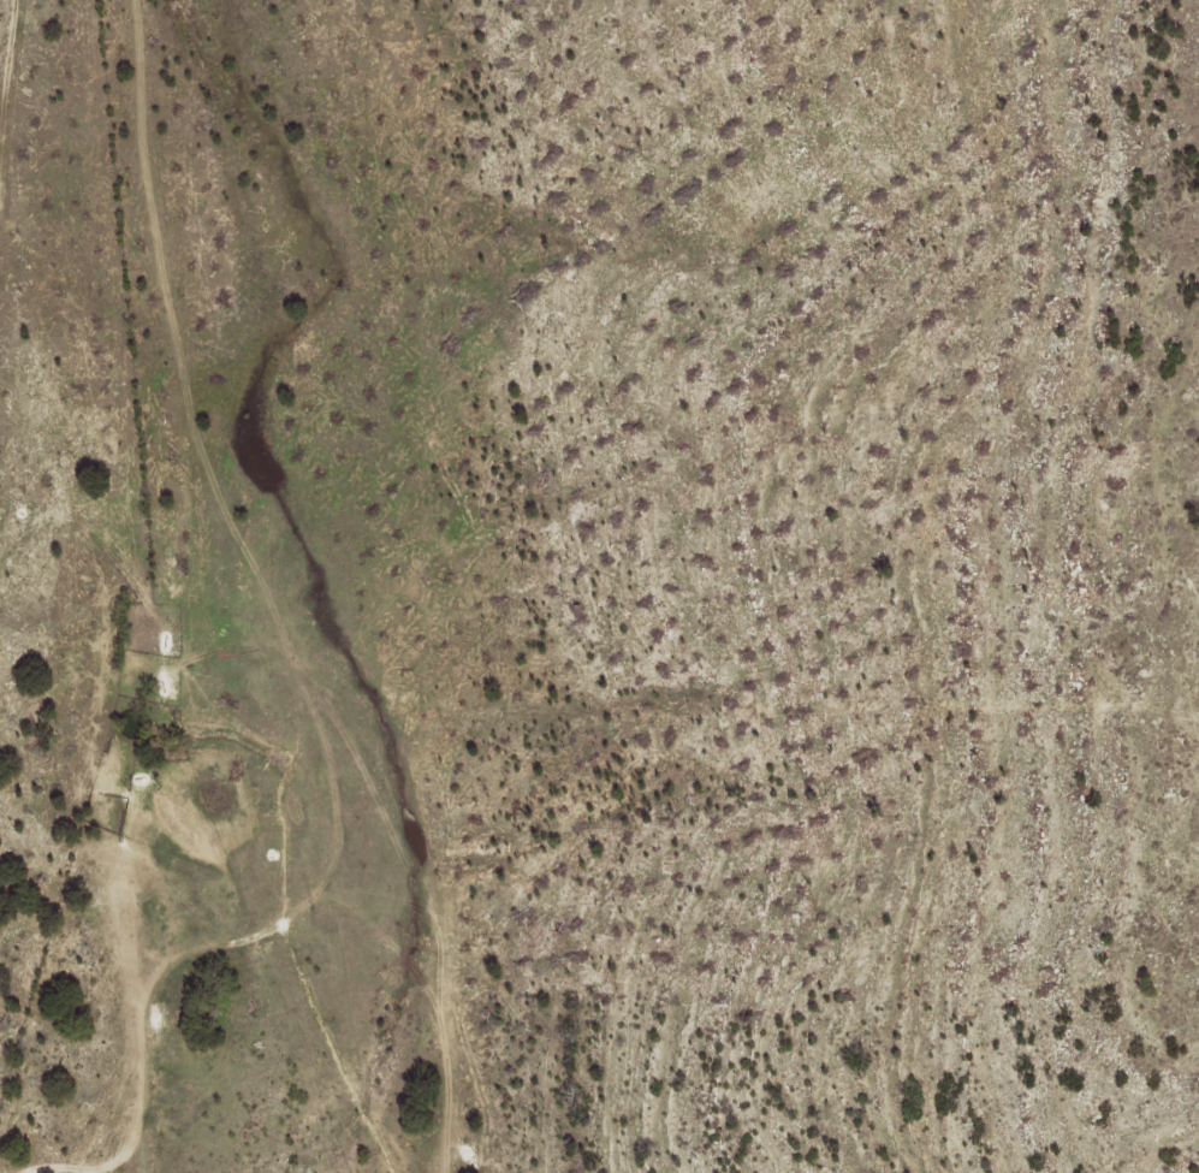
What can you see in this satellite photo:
road: (189, 1036)

